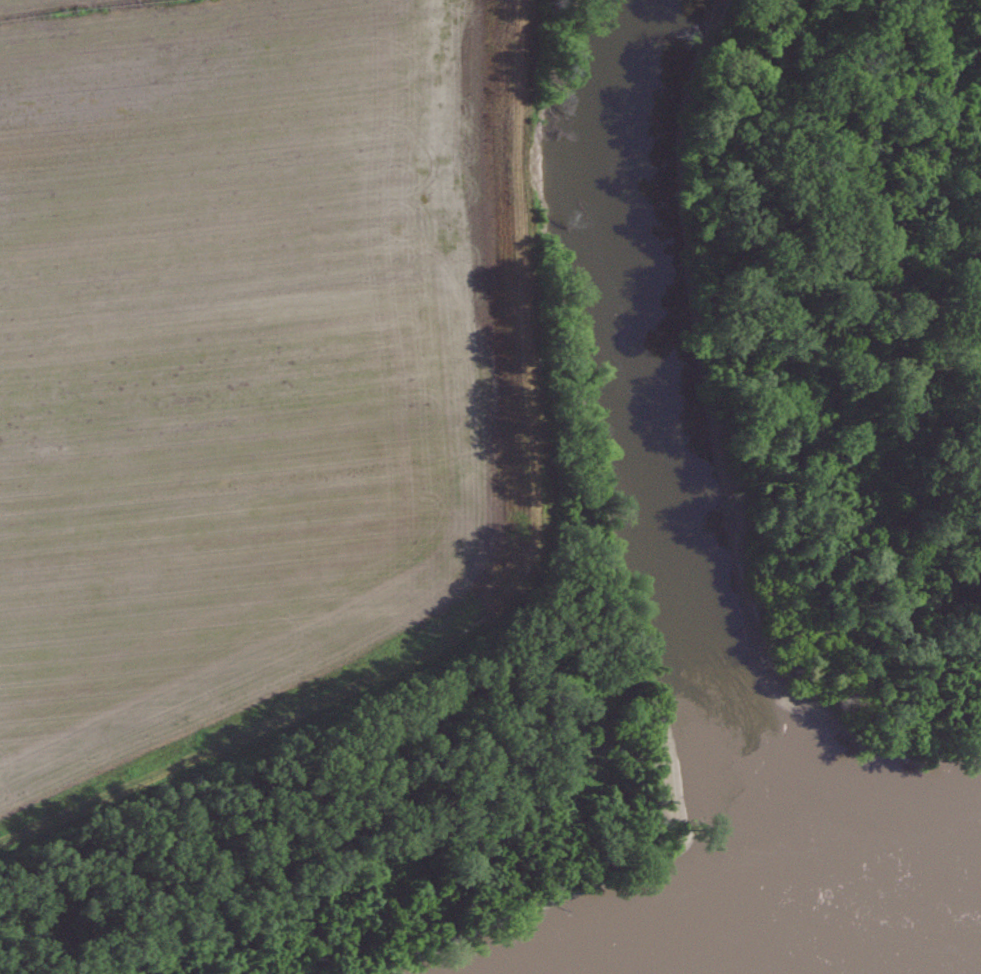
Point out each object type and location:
river: (685, 519)

